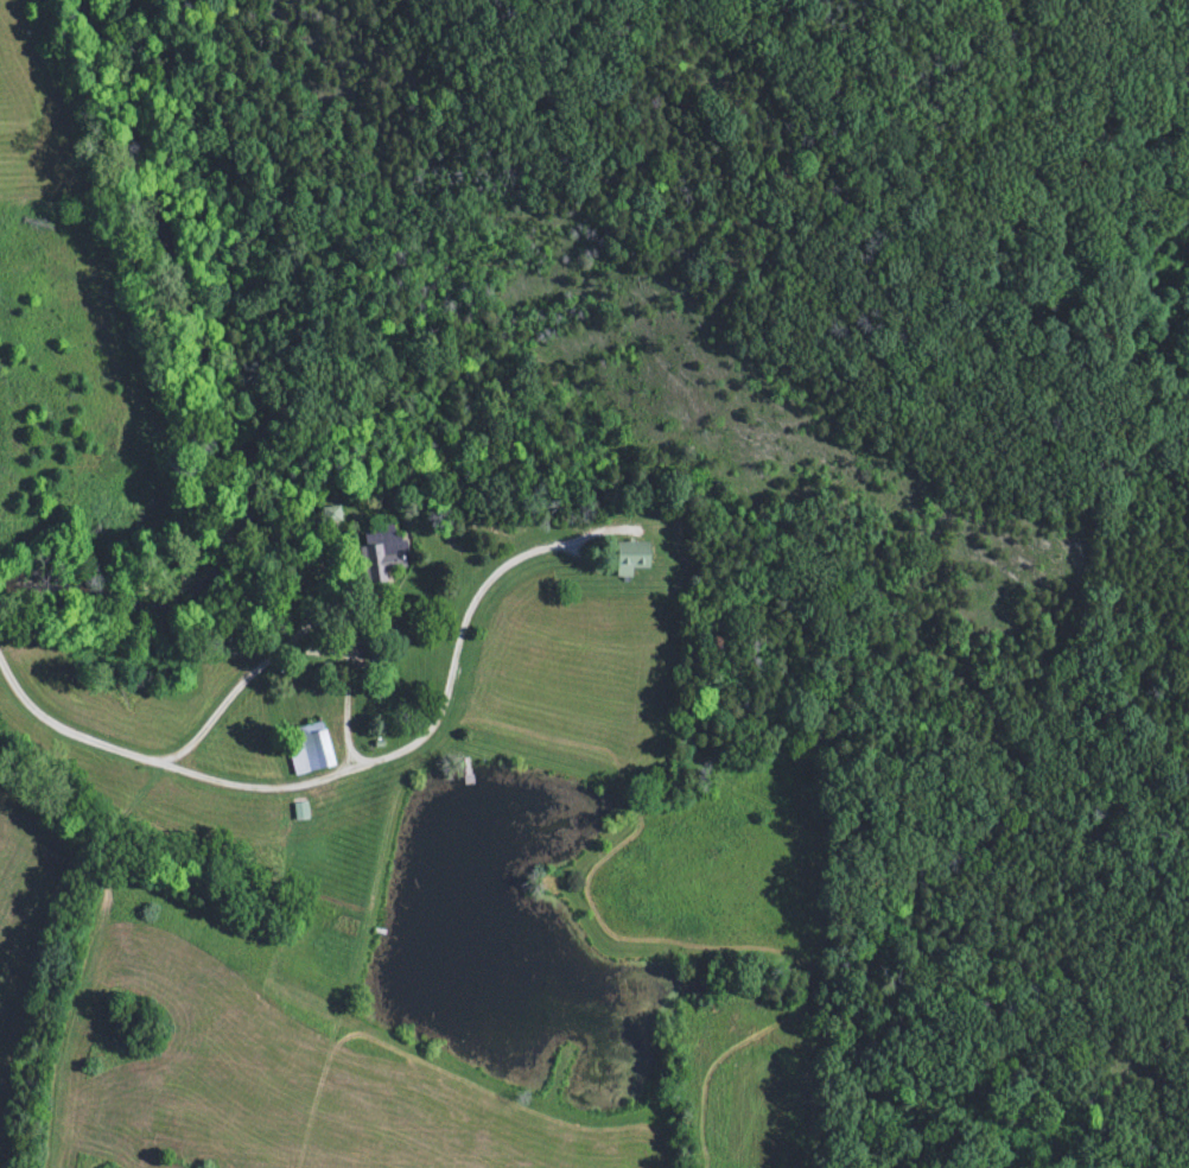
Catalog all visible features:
building: (329, 515)
building: (380, 554)
building: (630, 559)
road: (265, 658)
road: (354, 677)
building: (307, 749)
road: (326, 781)

